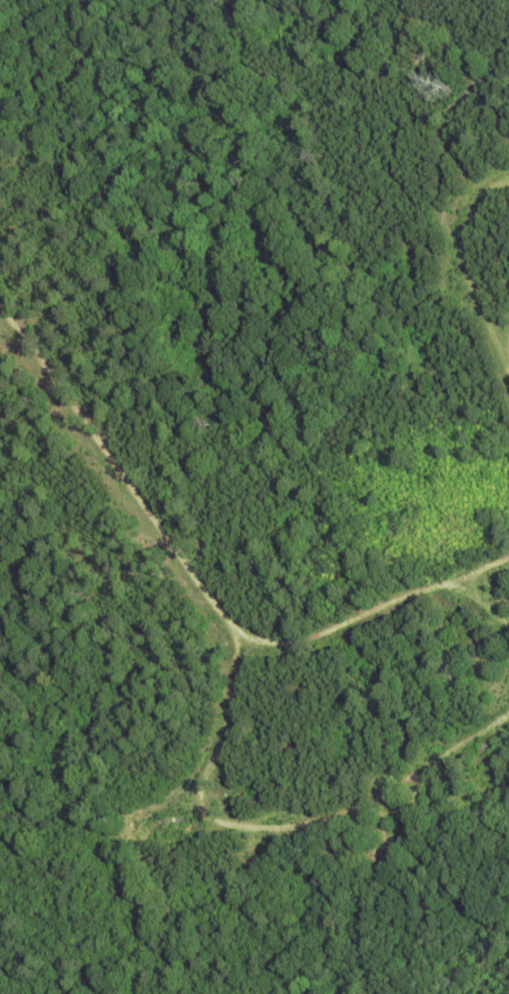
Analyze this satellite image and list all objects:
road: (196, 533)

